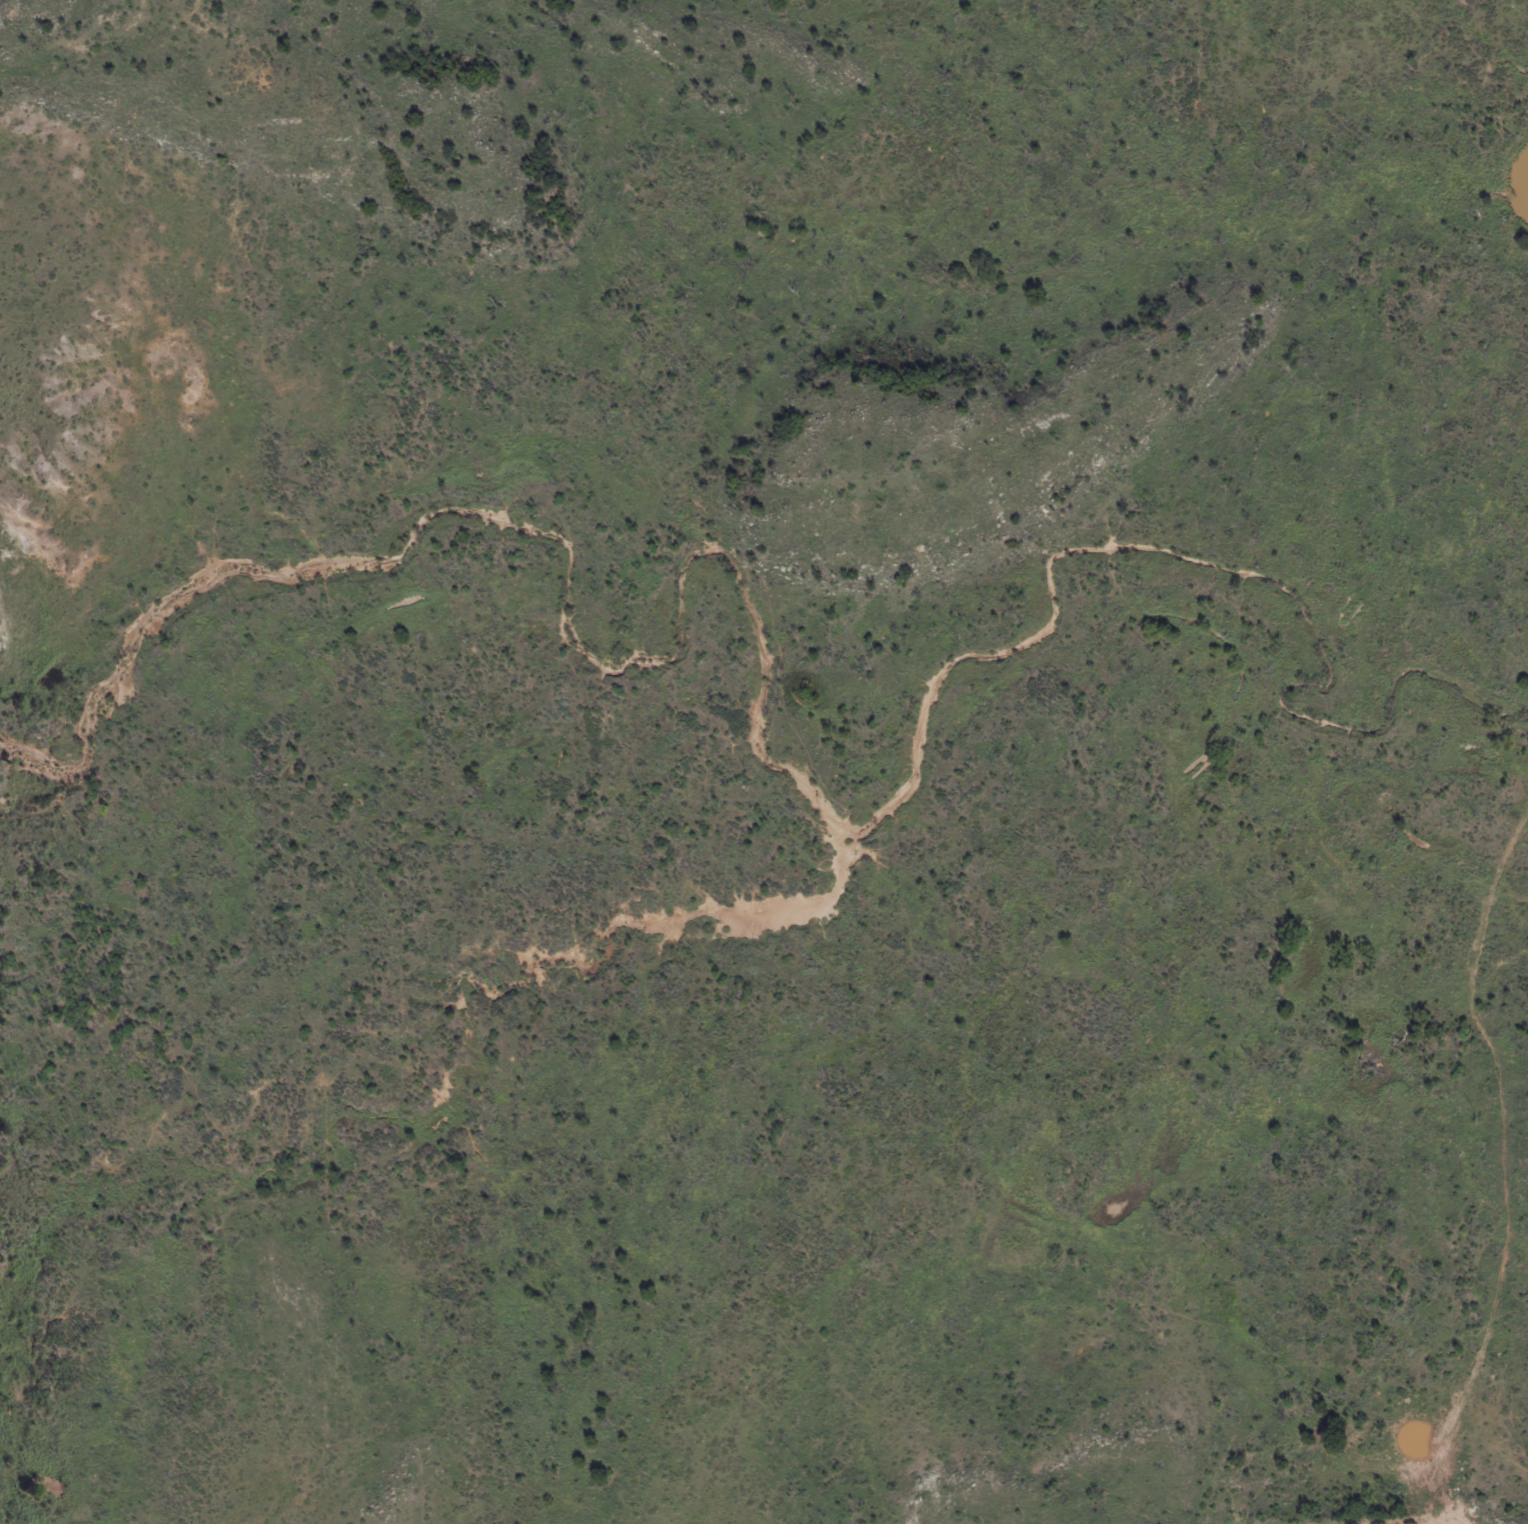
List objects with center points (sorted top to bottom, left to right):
road: (39, 526)
road: (1356, 1320)

